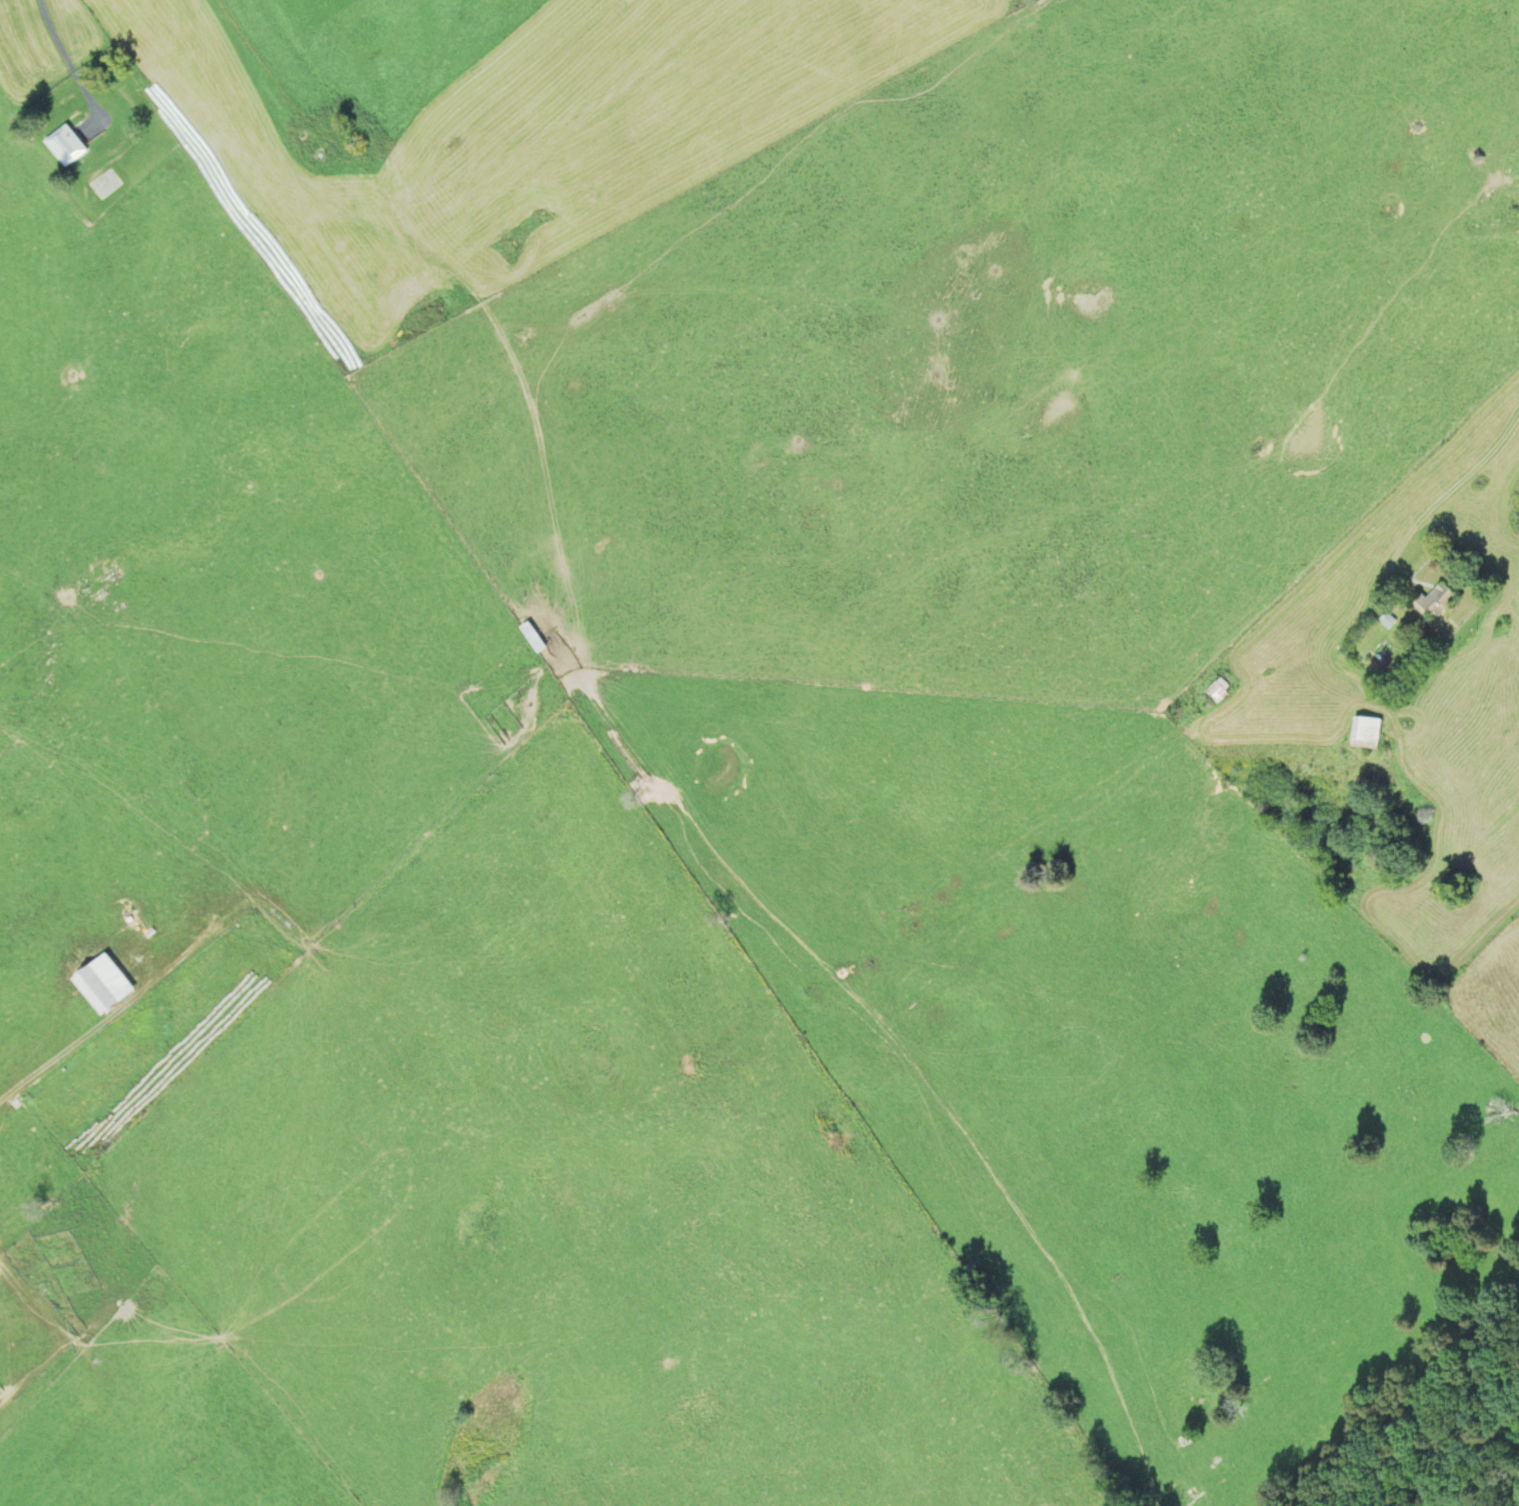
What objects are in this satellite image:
road: (69, 59)
building: (65, 147)
building: (1433, 603)
building: (1216, 691)
building: (1363, 732)
building: (100, 984)
road: (104, 1018)

